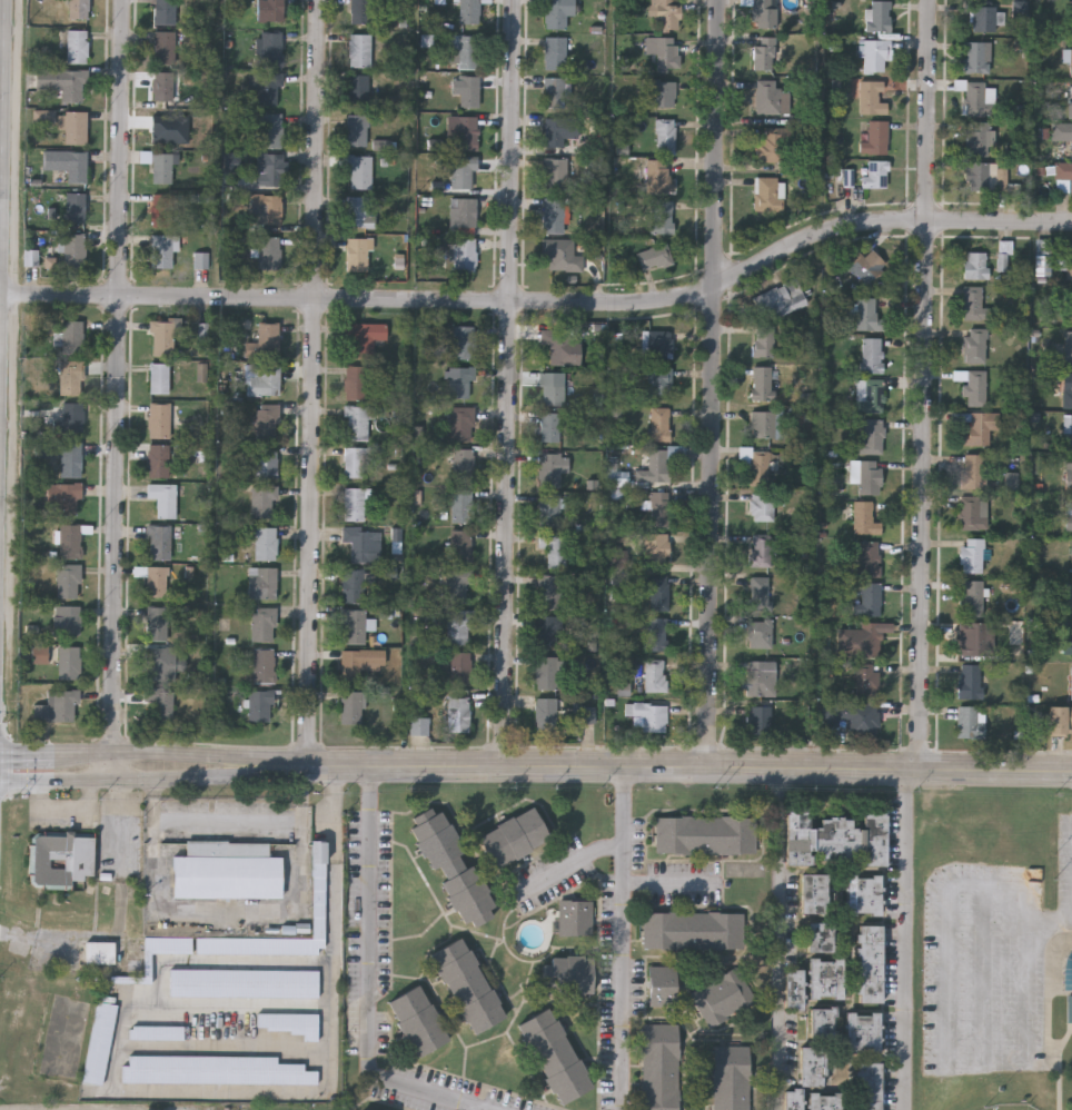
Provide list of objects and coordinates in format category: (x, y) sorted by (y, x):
building: (78, 8)
building: (269, 10)
building: (165, 11)
building: (360, 11)
building: (468, 11)
building: (557, 12)
building: (764, 13)
building: (669, 16)
building: (879, 16)
building: (983, 18)
building: (77, 46)
building: (163, 47)
building: (270, 48)
building: (359, 50)
building: (663, 50)
building: (466, 51)
building: (555, 52)
building: (763, 52)
building: (874, 53)
building: (975, 56)
building: (1068, 56)
building: (61, 82)
building: (162, 85)
building: (268, 86)
building: (358, 86)
building: (467, 90)
building: (556, 91)
building: (663, 92)
building: (768, 97)
building: (871, 97)
building: (977, 97)
building: (1070, 99)
building: (72, 125)
building: (165, 127)
building: (270, 129)
building: (357, 129)
building: (558, 129)
building: (1061, 130)
building: (466, 131)
building: (665, 135)
building: (875, 137)
building: (976, 137)
building: (774, 143)
road: (7, 147)
building: (66, 161)
building: (161, 165)
building: (268, 169)
building: (359, 170)
building: (464, 170)
building: (874, 174)
building: (555, 175)
building: (976, 175)
building: (658, 176)
building: (1063, 176)
building: (767, 192)
building: (75, 205)
building: (268, 206)
building: (161, 209)
building: (357, 211)
building: (463, 211)
building: (553, 215)
building: (661, 216)
building: (72, 249)
building: (161, 250)
building: (268, 251)
building: (359, 254)
building: (464, 255)
building: (560, 255)
building: (1003, 255)
building: (653, 256)
building: (1043, 257)
building: (1069, 261)
building: (975, 264)
building: (867, 265)
building: (778, 299)
road: (544, 301)
building: (973, 303)
building: (866, 314)
building: (70, 336)
building: (161, 337)
building: (366, 337)
building: (763, 339)
building: (463, 340)
building: (262, 341)
building: (656, 343)
building: (556, 344)
building: (974, 344)
road: (2, 347)
building: (1068, 347)
building: (871, 354)
building: (70, 375)
building: (159, 376)
building: (658, 378)
building: (265, 379)
building: (458, 379)
building: (355, 380)
building: (762, 381)
road: (315, 383)
road: (507, 384)
building: (972, 384)
road: (714, 385)
road: (924, 385)
building: (552, 386)
road: (117, 389)
building: (872, 393)
building: (1066, 394)
building: (69, 416)
building: (158, 418)
building: (266, 419)
road: (0, 422)
building: (355, 422)
building: (460, 422)
building: (659, 423)
building: (763, 423)
building: (549, 425)
building: (977, 425)
building: (1068, 435)
building: (872, 436)
building: (69, 458)
building: (158, 459)
building: (265, 460)
building: (354, 460)
building: (463, 462)
building: (757, 464)
building: (654, 466)
building: (550, 469)
building: (972, 469)
building: (866, 474)
building: (1069, 475)
building: (63, 496)
building: (162, 497)
building: (264, 501)
building: (354, 502)
building: (460, 504)
building: (764, 504)
building: (659, 507)
building: (548, 509)
building: (970, 512)
building: (1069, 513)
building: (864, 517)
building: (69, 539)
building: (158, 541)
building: (265, 542)
building: (363, 542)
building: (459, 545)
building: (658, 545)
building: (554, 548)
building: (760, 548)
building: (971, 553)
building: (1071, 555)
building: (868, 557)
building: (152, 578)
building: (67, 581)
building: (261, 582)
building: (353, 585)
building: (457, 585)
building: (549, 591)
building: (657, 591)
building: (758, 592)
building: (971, 596)
building: (1069, 596)
building: (868, 598)
building: (67, 618)
building: (156, 623)
building: (262, 623)
building: (354, 625)
building: (457, 625)
building: (548, 630)
building: (656, 633)
building: (760, 633)
building: (976, 637)
building: (1069, 637)
building: (867, 640)
building: (67, 662)
building: (359, 662)
building: (155, 663)
building: (262, 665)
building: (458, 665)
building: (546, 672)
building: (655, 674)
building: (760, 678)
building: (865, 680)
building: (969, 680)
building: (1071, 681)
building: (160, 701)
building: (259, 704)
building: (57, 705)
building: (349, 706)
building: (584, 713)
building: (457, 714)
building: (546, 714)
building: (649, 716)
building: (860, 717)
building: (1060, 717)
building: (417, 718)
building: (758, 718)
building: (970, 721)
road: (142, 751)
road: (677, 770)
road: (142, 780)
road: (98, 796)
road: (119, 797)
road: (57, 813)
road: (231, 822)
building: (705, 834)
building: (514, 836)
building: (835, 839)
building: (61, 858)
building: (451, 865)
road: (127, 866)
road: (567, 868)
building: (227, 869)
road: (671, 883)
building: (318, 889)
building: (815, 893)
building: (864, 894)
road: (238, 912)
building: (575, 919)
road: (1049, 921)
building: (693, 930)
building: (295, 931)
road: (423, 936)
building: (821, 936)
road: (623, 939)
road: (37, 940)
road: (494, 940)
road: (778, 940)
road: (903, 941)
building: (168, 944)
park: (992, 950)
building: (99, 952)
building: (871, 963)
parking lot: (990, 965)
building: (567, 975)
road: (984, 975)
building: (826, 978)
building: (244, 982)
road: (368, 982)
building: (466, 984)
building: (661, 985)
building: (795, 989)
building: (723, 998)
road: (445, 1013)
building: (417, 1020)
building: (824, 1021)
building: (289, 1022)
road: (1050, 1022)
building: (863, 1031)
building: (155, 1032)
building: (99, 1042)
building: (555, 1054)
road: (1019, 1063)
building: (813, 1064)
building: (659, 1067)
building: (215, 1069)
building: (731, 1078)
building: (870, 1086)
road: (216, 1091)
park: (993, 1091)
building: (794, 1099)
building: (826, 1101)
road: (475, 1108)

